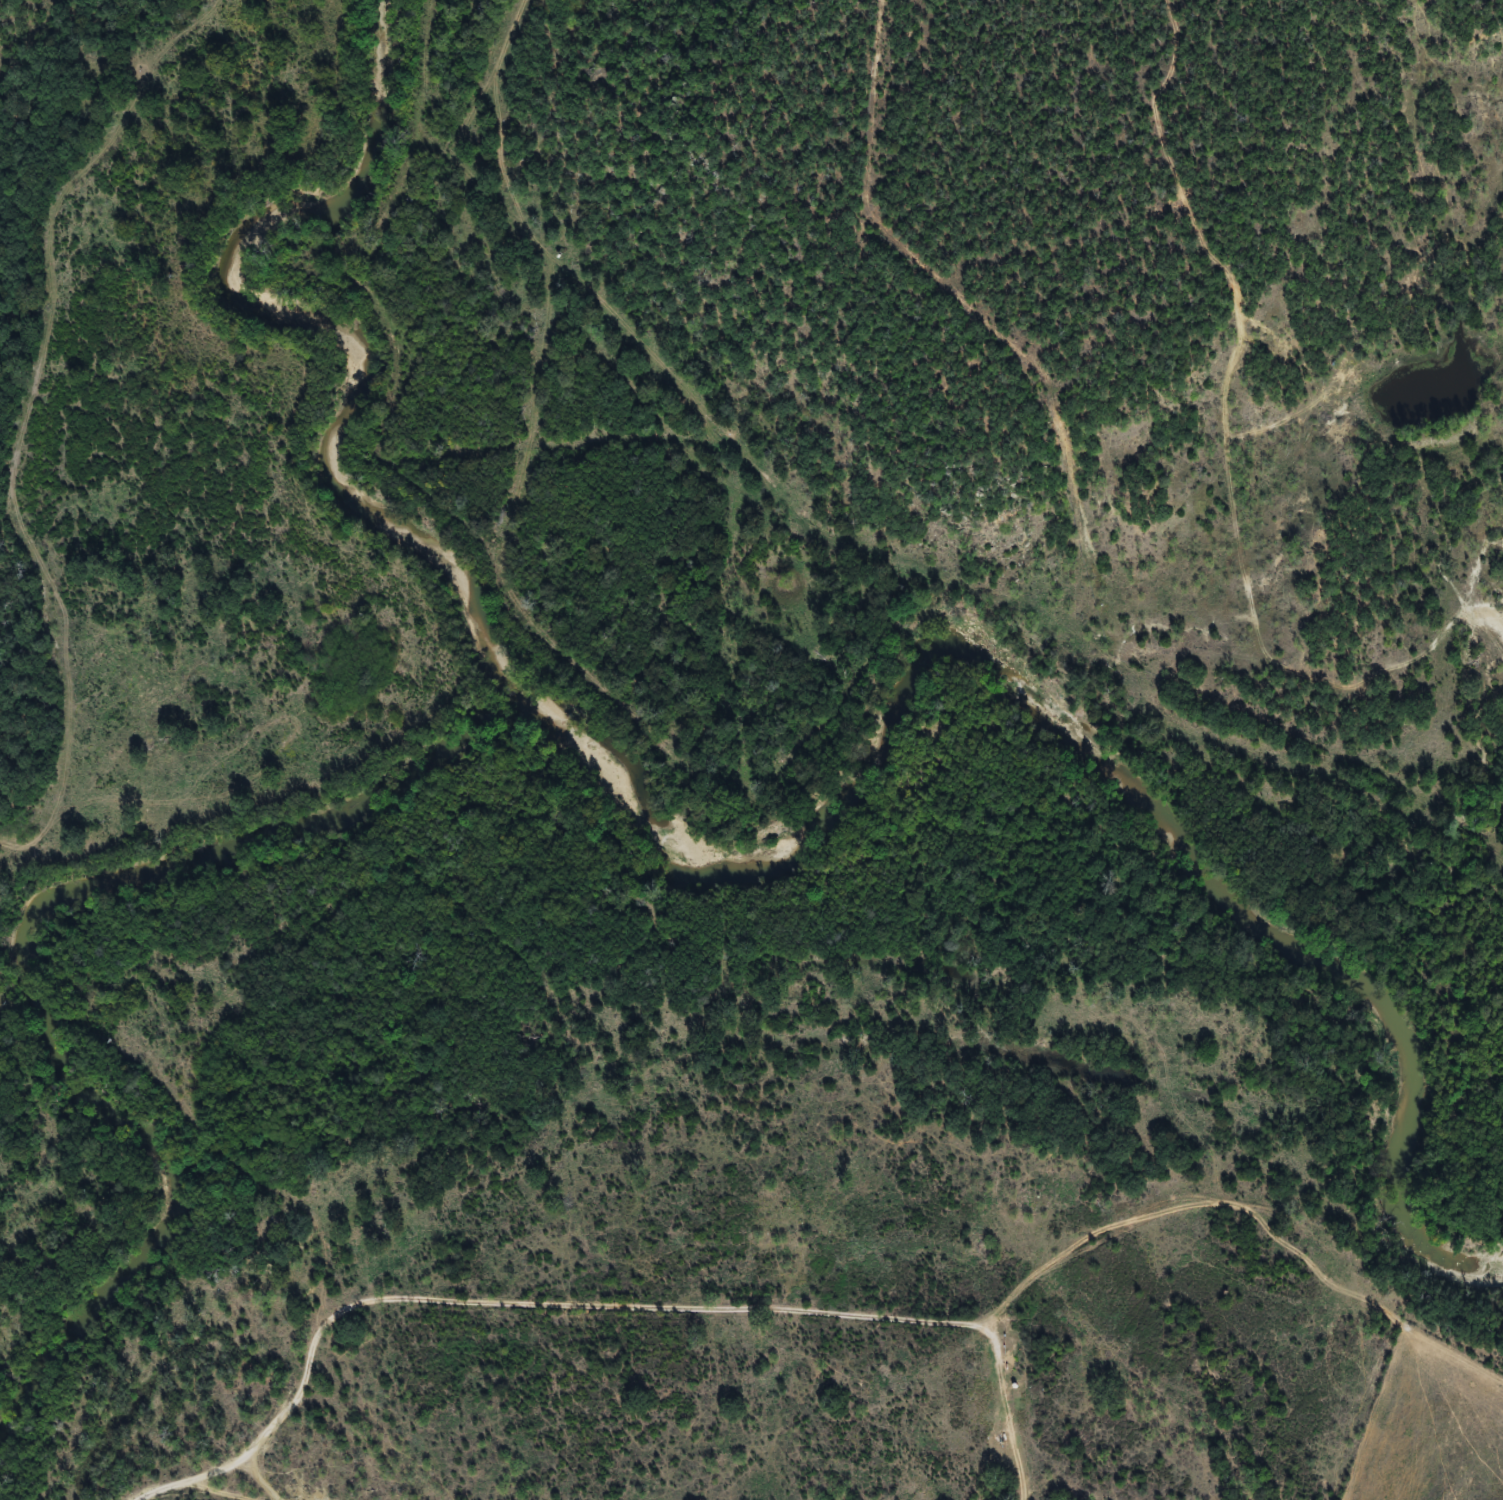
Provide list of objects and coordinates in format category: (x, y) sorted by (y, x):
road: (1475, 640)
river: (648, 811)
road: (898, 1302)
road: (245, 1498)

